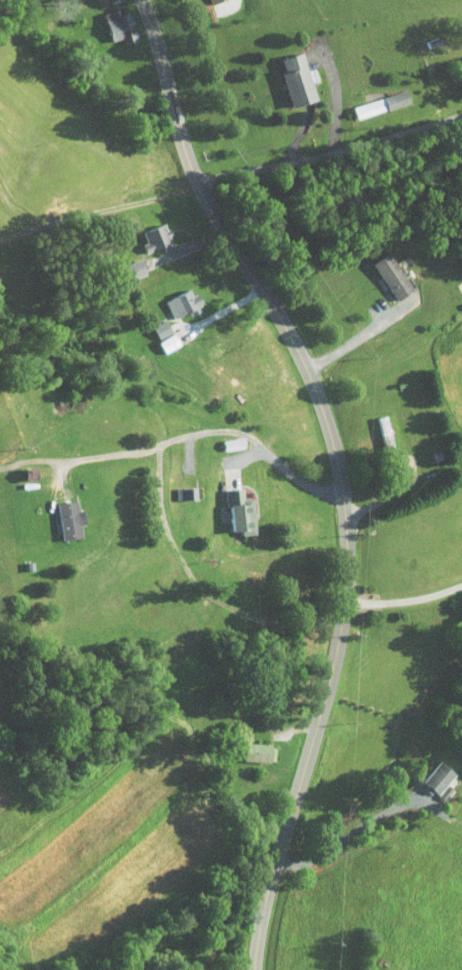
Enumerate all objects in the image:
road: (232, 5)
building: (105, 19)
building: (280, 73)
building: (365, 98)
road: (335, 101)
road: (330, 154)
building: (140, 232)
building: (119, 264)
building: (376, 269)
building: (168, 297)
road: (221, 313)
building: (150, 331)
road: (352, 342)
road: (181, 435)
road: (339, 469)
building: (169, 487)
road: (386, 495)
building: (222, 506)
building: (54, 513)
road: (199, 586)
road: (404, 601)
building: (242, 746)
building: (424, 775)
road: (355, 829)

